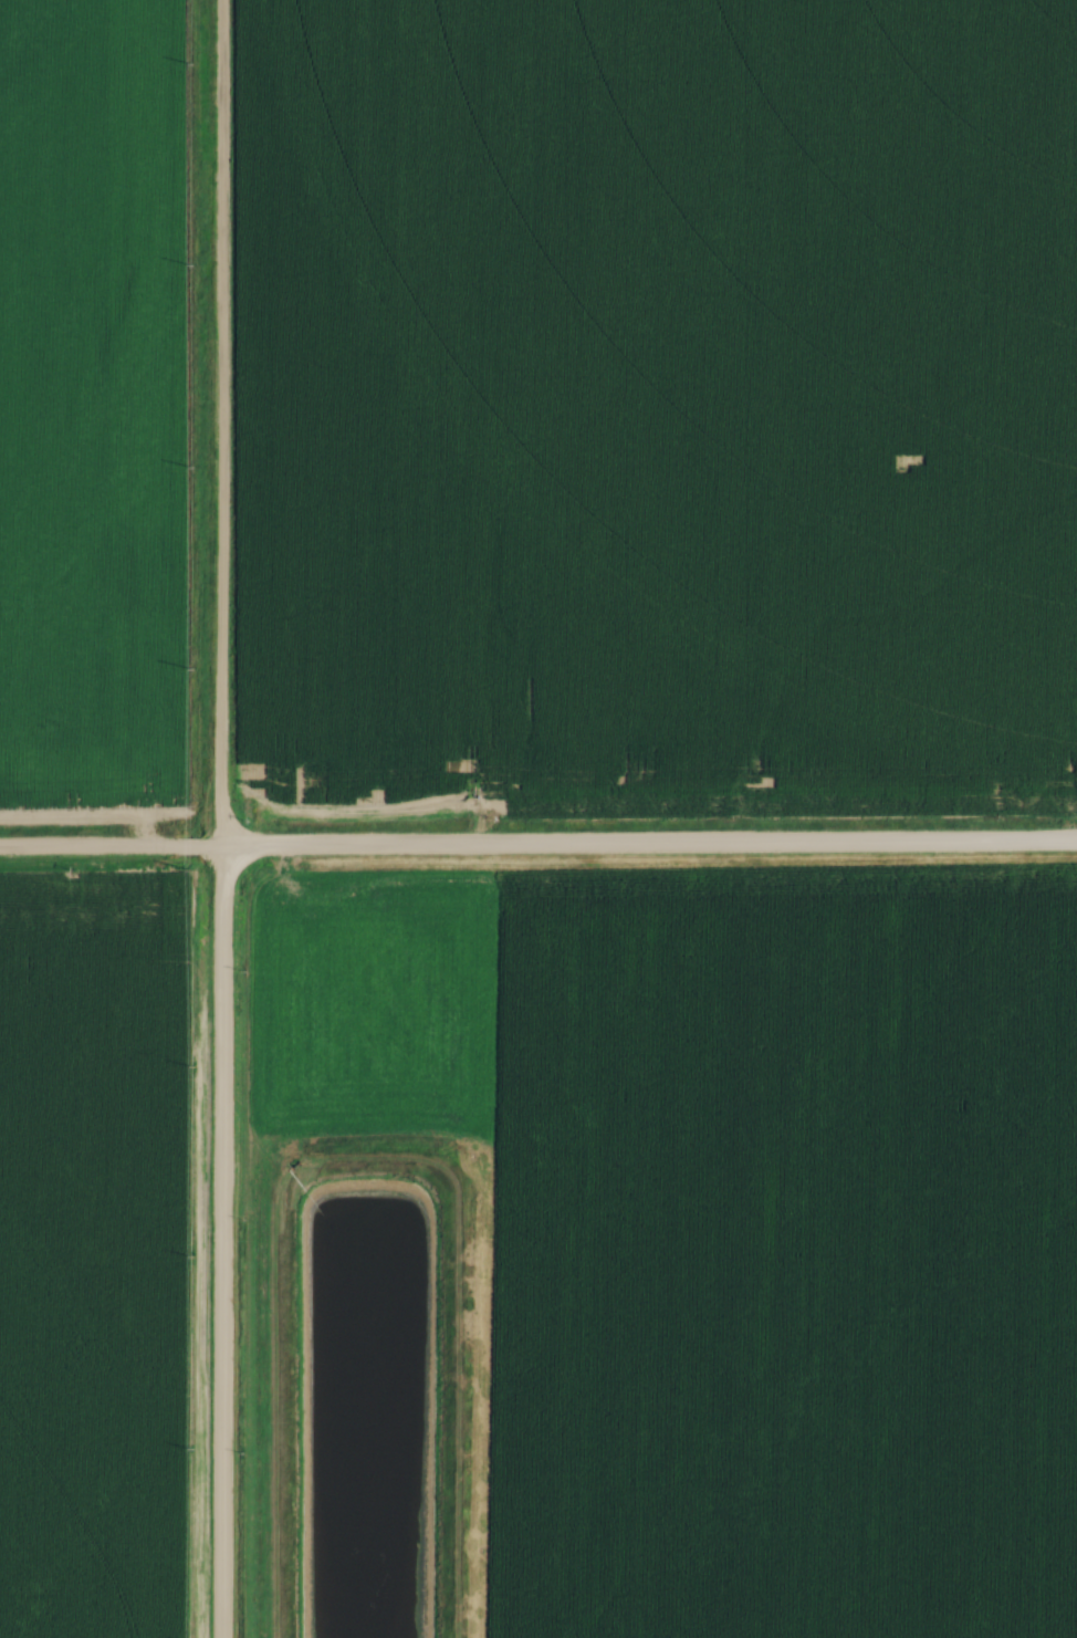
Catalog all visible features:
road: (218, 818)
road: (537, 852)

